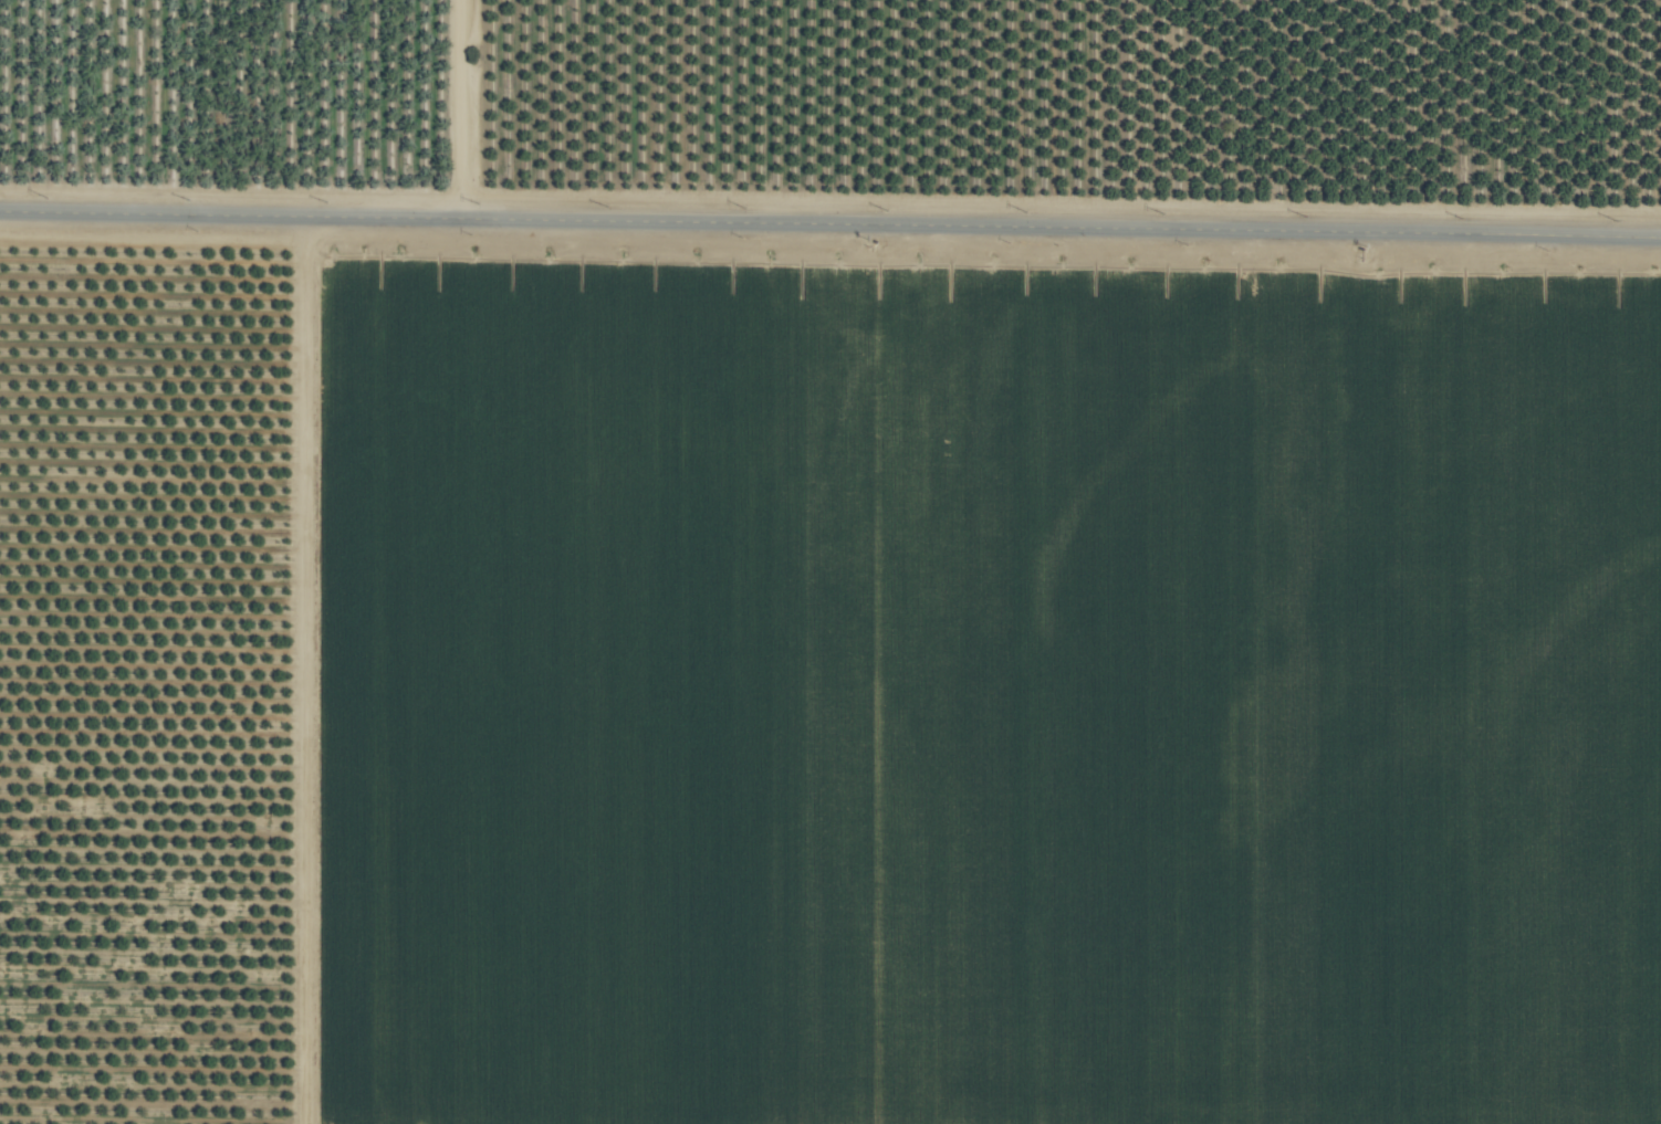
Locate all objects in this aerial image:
road: (468, 108)
road: (830, 222)
crop: (830, 561)

